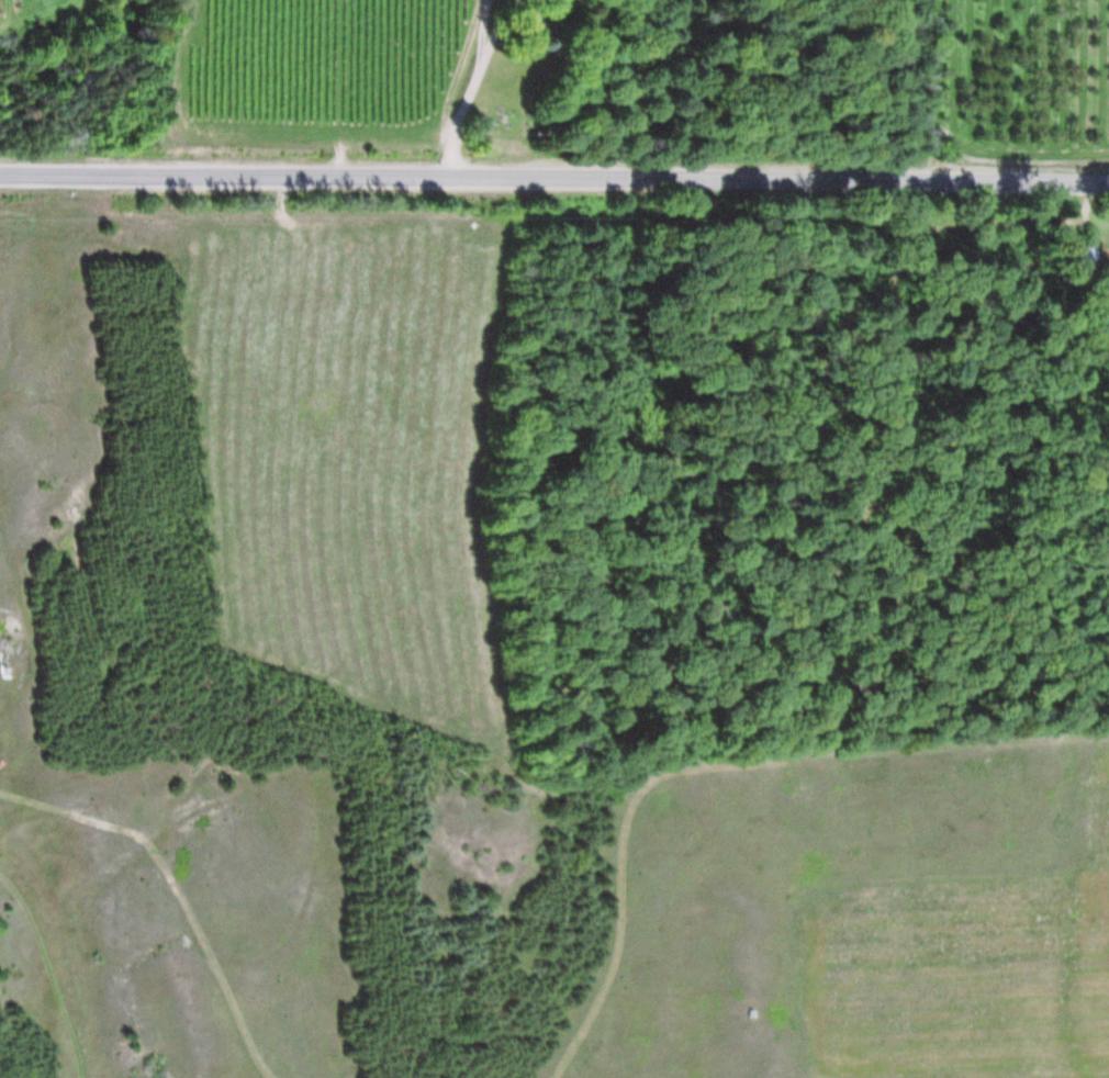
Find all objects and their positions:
road: (471, 87)
road: (553, 178)

